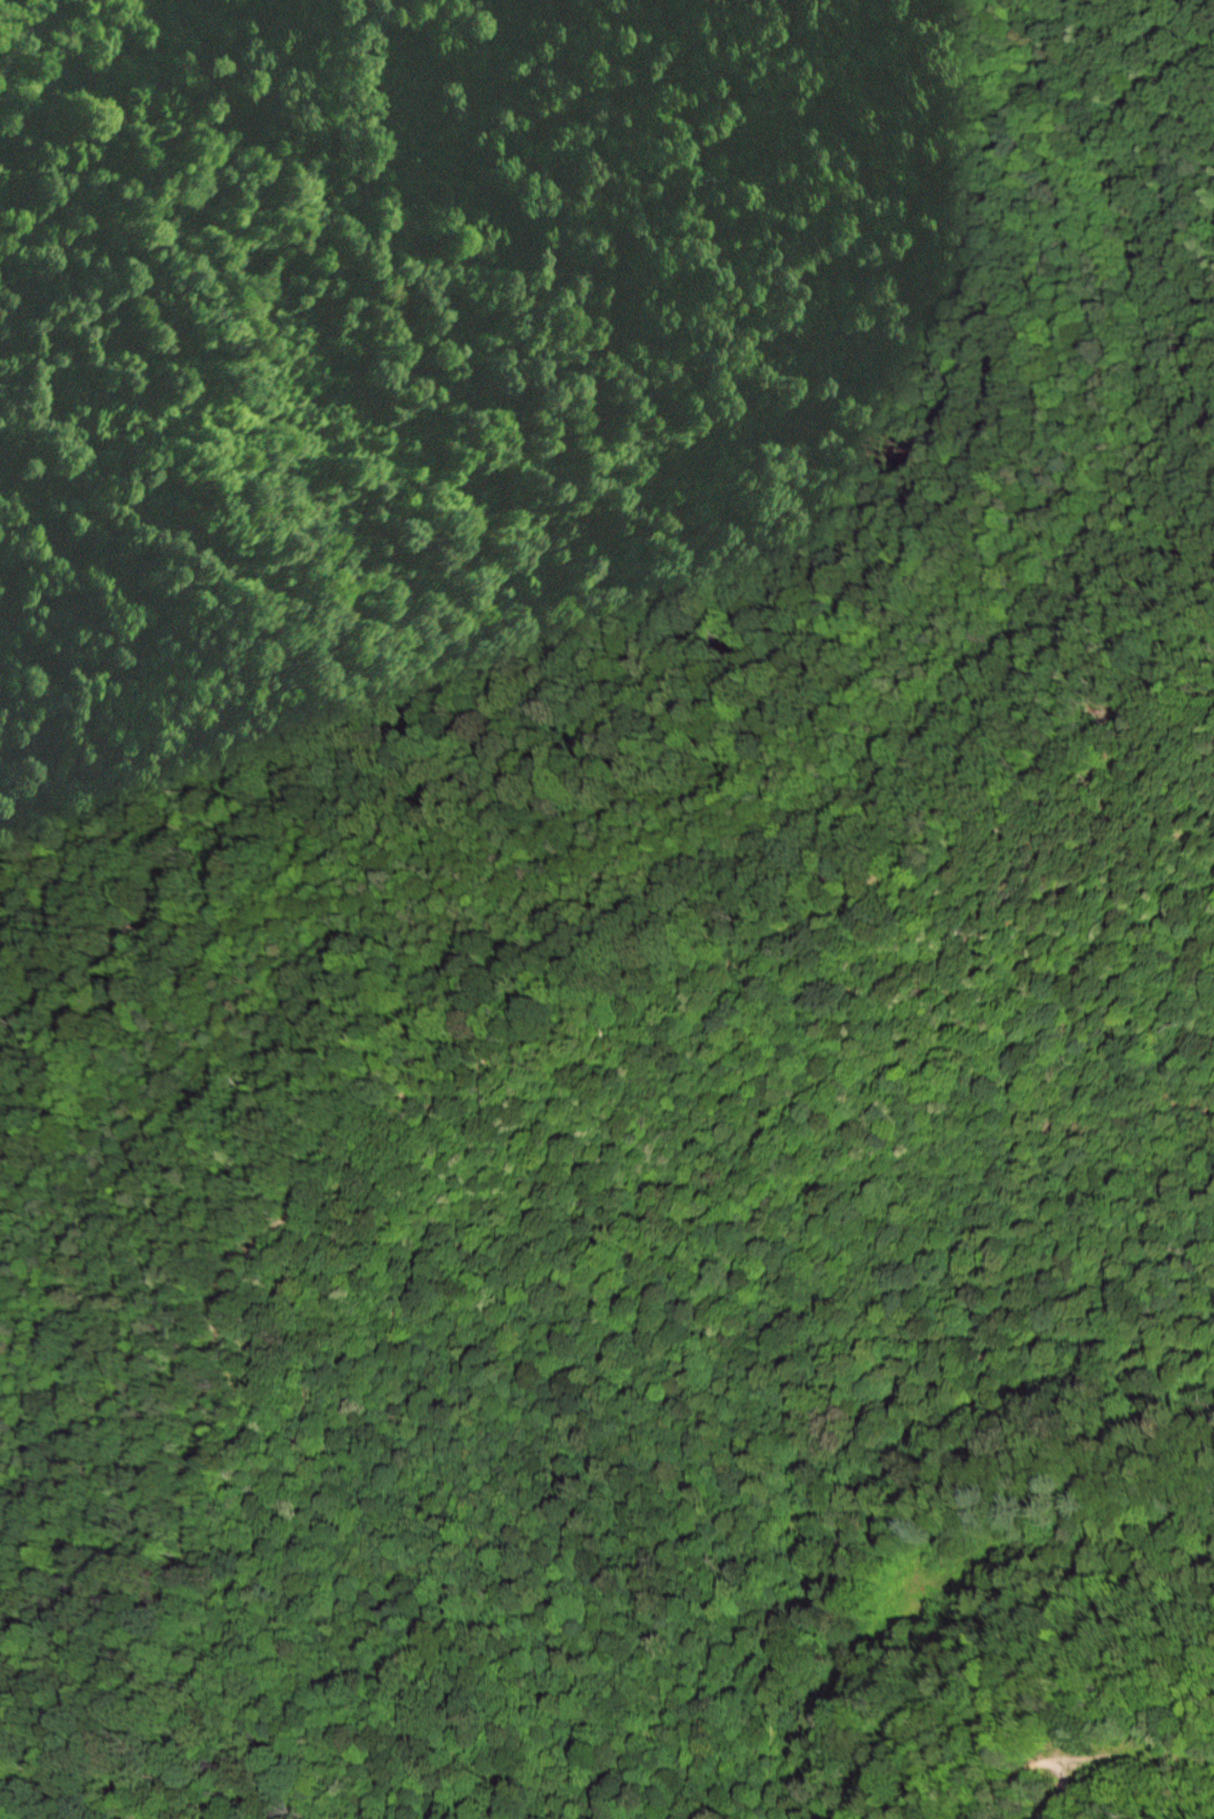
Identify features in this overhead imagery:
road: (19, 38)

